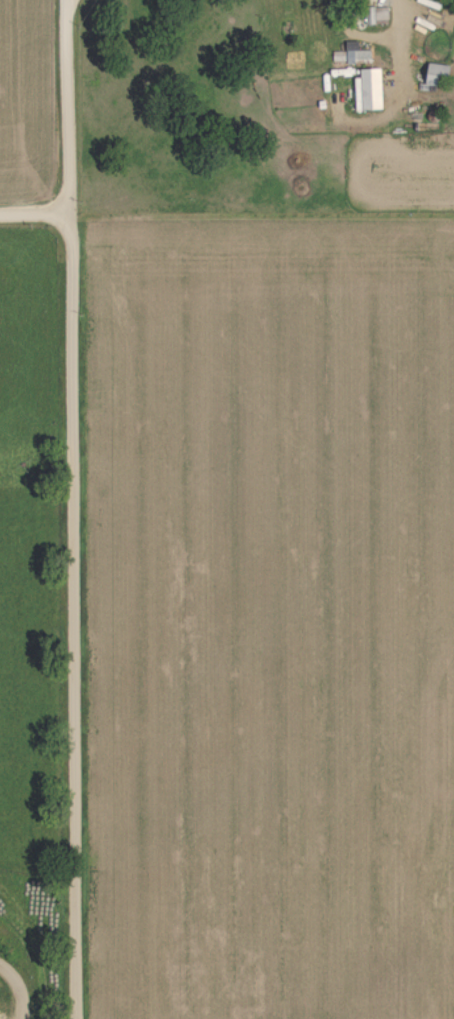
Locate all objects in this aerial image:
building: (379, 15)
road: (400, 47)
building: (357, 55)
building: (437, 76)
building: (368, 92)
road: (34, 215)
road: (68, 509)

